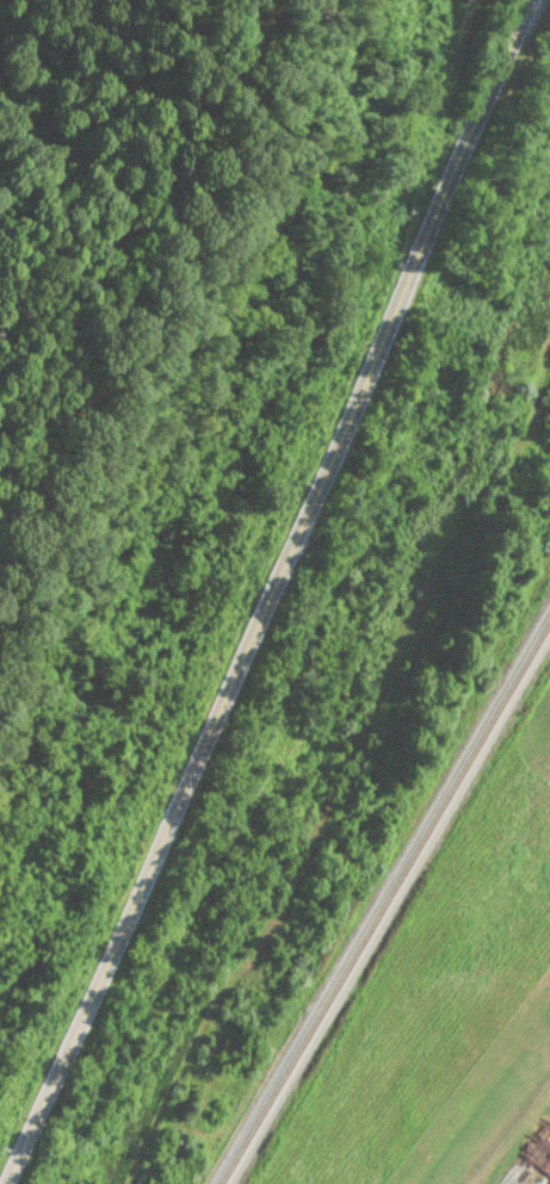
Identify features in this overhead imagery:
road: (253, 589)
railway: (390, 907)

